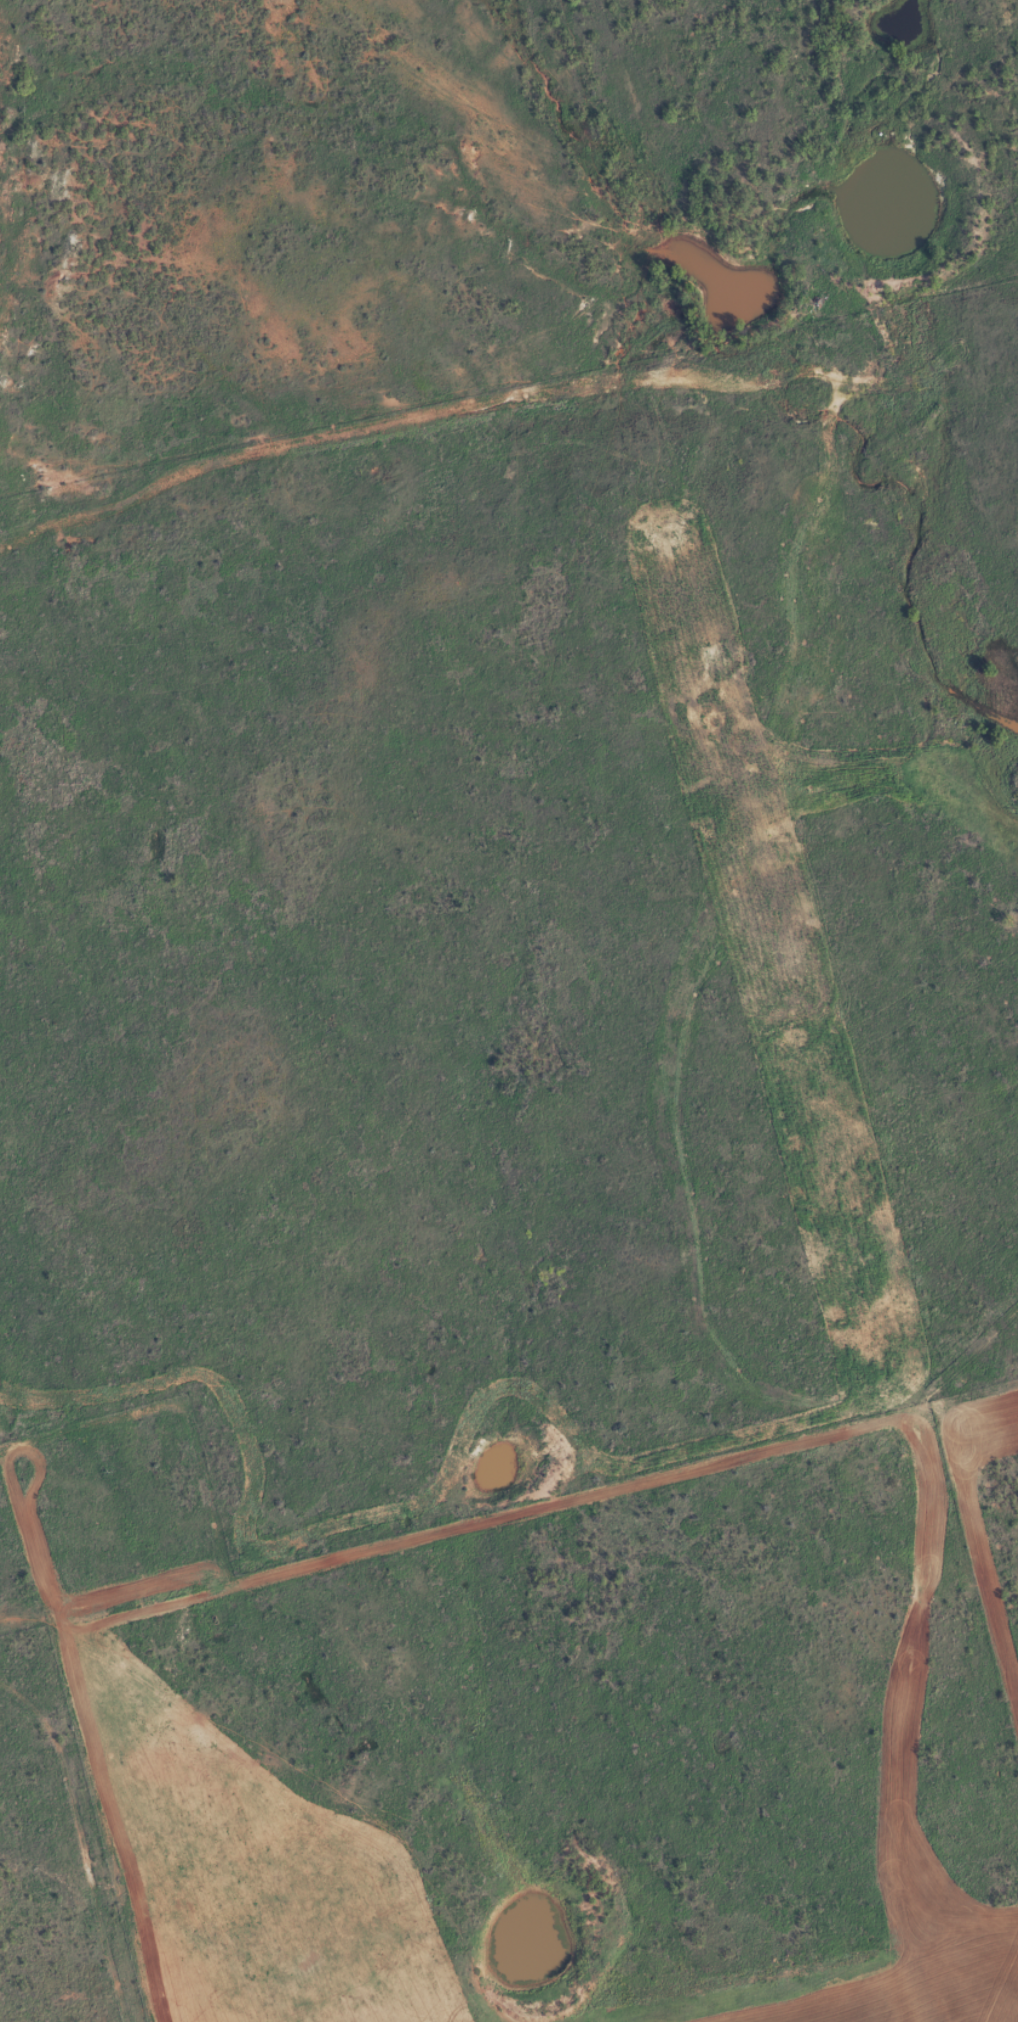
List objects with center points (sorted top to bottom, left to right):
road: (888, 86)

